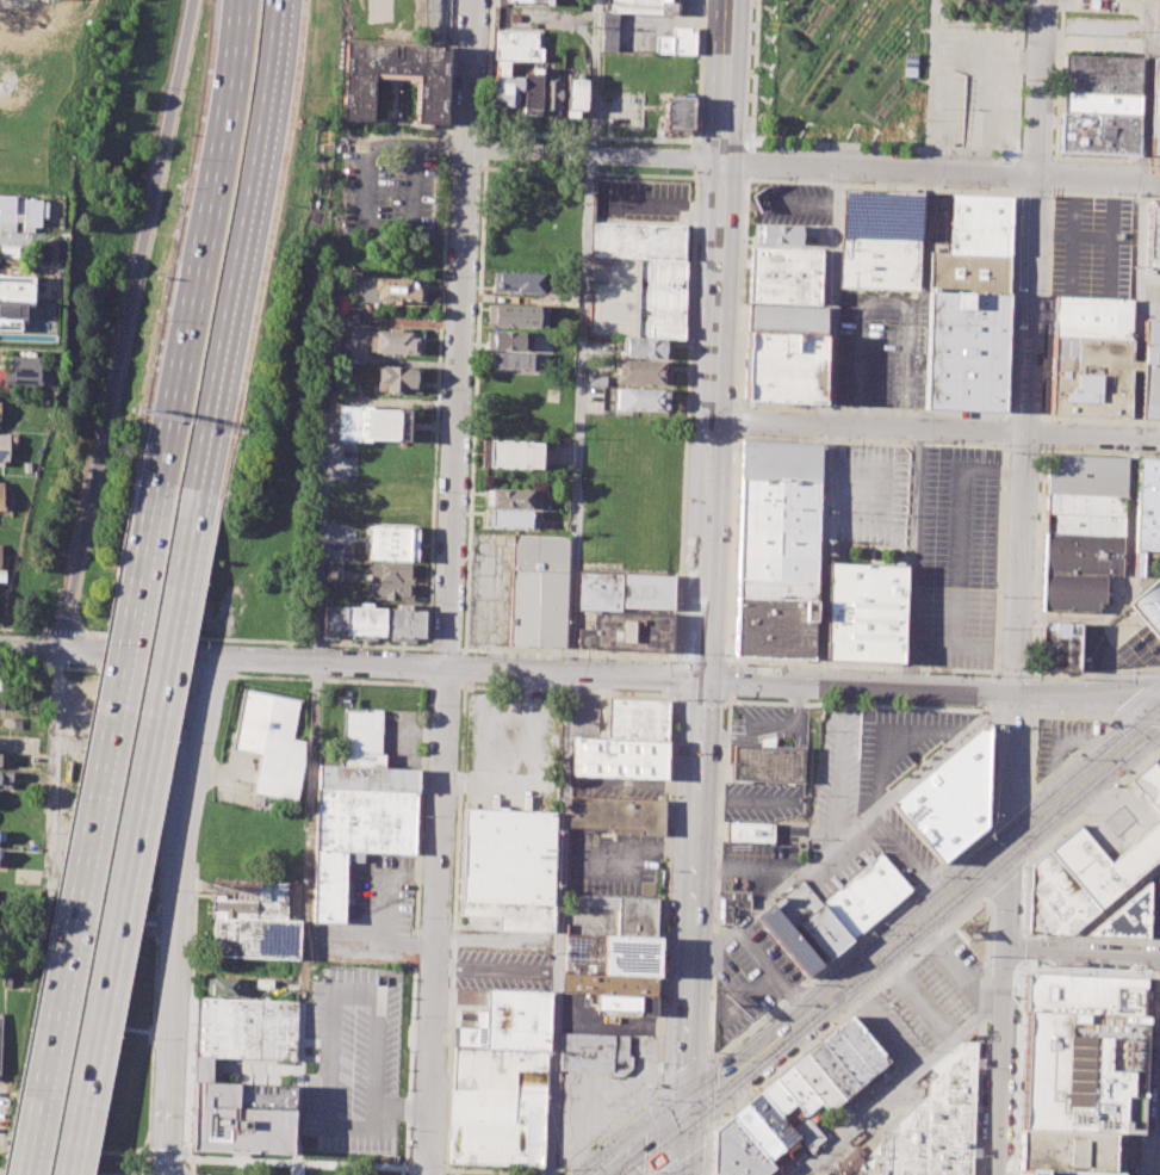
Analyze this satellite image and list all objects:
building: (528, 1)
road: (1003, 1)
building: (646, 6)
building: (1158, 11)
parking lot: (1099, 23)
road: (788, 25)
street lamp: (753, 27)
building: (516, 38)
building: (677, 41)
parking lot: (1103, 45)
parking lot: (1158, 49)
road: (804, 50)
building: (517, 52)
road: (813, 69)
park: (840, 69)
road: (699, 73)
building: (1102, 74)
parking lot: (978, 80)
road: (1018, 80)
building: (504, 85)
road: (930, 85)
building: (531, 89)
road: (1146, 91)
building: (551, 94)
building: (576, 94)
building: (359, 98)
street lamp: (453, 98)
road: (593, 101)
building: (1099, 103)
building: (678, 112)
building: (1155, 112)
road: (1056, 129)
building: (1098, 131)
road: (527, 132)
road: (488, 134)
street lamp: (748, 140)
road: (769, 141)
road: (751, 144)
road: (486, 148)
road: (974, 149)
road: (1036, 153)
road: (596, 156)
road: (1055, 156)
road: (696, 161)
road: (485, 163)
road: (748, 163)
road: (942, 172)
road: (1015, 173)
street lamp: (449, 174)
road: (1054, 174)
road: (749, 179)
street lamp: (746, 185)
parking lot: (386, 186)
road: (1016, 191)
road: (1034, 191)
road: (1053, 192)
road: (360, 198)
parking lot: (643, 200)
road: (207, 208)
road: (672, 208)
building: (20, 212)
parking lot: (941, 218)
building: (980, 224)
building: (783, 234)
road: (1072, 235)
road: (1069, 237)
road: (1110, 239)
building: (1153, 239)
building: (640, 240)
building: (882, 240)
road: (246, 246)
parking lot: (1092, 246)
building: (784, 276)
street lamp: (445, 277)
building: (519, 282)
parking lot: (1152, 287)
building: (399, 289)
building: (613, 296)
parking garage: (613, 296)
road: (835, 296)
building: (662, 297)
road: (883, 299)
building: (13, 303)
road: (1049, 307)
building: (515, 314)
building: (343, 315)
building: (1091, 317)
building: (786, 320)
road: (441, 323)
road: (126, 324)
building: (508, 340)
building: (399, 342)
building: (644, 347)
parking lot: (882, 351)
building: (964, 352)
building: (513, 360)
building: (1149, 361)
building: (784, 367)
building: (21, 371)
building: (639, 371)
building: (1088, 376)
building: (398, 379)
building: (597, 381)
street lamp: (441, 385)
building: (641, 398)
street lamp: (737, 398)
road: (739, 406)
road: (474, 410)
road: (581, 414)
road: (1022, 415)
road: (1046, 416)
road: (686, 420)
road: (739, 420)
building: (348, 422)
building: (384, 423)
road: (937, 429)
road: (1005, 431)
road: (738, 433)
road: (1046, 433)
street lamp: (745, 438)
street lamp: (734, 444)
building: (4, 447)
road: (1021, 447)
road: (1043, 450)
building: (515, 453)
street lamp: (1121, 456)
street lamp: (436, 493)
building: (0, 495)
building: (1086, 495)
road: (155, 496)
building: (510, 497)
road: (323, 501)
building: (1142, 505)
parking lot: (959, 517)
building: (513, 518)
road: (960, 526)
street lamp: (731, 537)
parking lot: (929, 539)
building: (389, 543)
building: (781, 548)
building: (0, 551)
building: (1084, 555)
road: (707, 557)
road: (913, 558)
road: (1038, 565)
building: (333, 570)
building: (391, 571)
parking lot: (1158, 579)
road: (449, 587)
road: (1018, 587)
parking lot: (490, 588)
building: (539, 589)
building: (393, 590)
building: (600, 590)
building: (646, 592)
building: (1073, 592)
street lamp: (57, 604)
street lamp: (432, 604)
building: (1148, 606)
building: (863, 612)
building: (373, 620)
road: (20, 630)
building: (627, 631)
road: (61, 632)
street lamp: (726, 632)
road: (255, 639)
street lamp: (204, 642)
road: (963, 644)
building: (1060, 644)
street lamp: (309, 645)
road: (30, 648)
road: (443, 648)
street lamp: (397, 649)
road: (464, 649)
street lamp: (472, 654)
street lamp: (562, 656)
road: (702, 660)
road: (728, 660)
street lamp: (663, 661)
road: (728, 661)
street lamp: (740, 664)
road: (427, 666)
road: (465, 668)
road: (95, 669)
street lamp: (832, 669)
road: (610, 674)
road: (210, 675)
road: (327, 679)
traffic signals: (701, 679)
road: (727, 679)
road: (674, 680)
road: (441, 684)
road: (463, 685)
building: (0, 686)
road: (676, 697)
road: (700, 698)
road: (1140, 698)
street lamp: (223, 699)
street lamp: (722, 705)
road: (876, 705)
street lamp: (427, 706)
parking lot: (585, 716)
road: (1139, 717)
building: (637, 718)
parking lot: (510, 732)
road: (767, 735)
road: (1153, 735)
building: (361, 737)
parking lot: (401, 738)
building: (8, 741)
building: (272, 742)
parking lot: (1057, 742)
road: (1060, 742)
parking lot: (898, 747)
building: (619, 756)
building: (2, 760)
parking lot: (1158, 761)
building: (768, 763)
parking lot: (838, 766)
road: (1030, 766)
building: (5, 775)
building: (367, 778)
parking lot: (238, 779)
building: (1149, 783)
parking lot: (618, 784)
street lamp: (1114, 784)
road: (1032, 792)
building: (949, 799)
street lamp: (204, 803)
road: (1090, 805)
road: (1011, 808)
building: (618, 812)
street lamp: (1079, 814)
street lamp: (719, 816)
street lamp: (422, 818)
parking lot: (1121, 821)
road: (991, 824)
road: (134, 833)
building: (749, 834)
building: (1, 835)
building: (355, 837)
building: (31, 845)
building: (0, 858)
parking lot: (613, 862)
building: (508, 866)
road: (733, 870)
parking lot: (755, 870)
road: (82, 877)
building: (1083, 879)
road: (1001, 882)
street lamp: (1022, 893)
building: (866, 896)
road: (1023, 897)
building: (252, 901)
street lamp: (192, 902)
building: (733, 908)
road: (1109, 909)
road: (157, 911)
building: (625, 911)
road: (173, 913)
parking lot: (371, 914)
street lamp: (1021, 916)
road: (305, 917)
road: (925, 917)
building: (1125, 919)
street lamp: (418, 920)
building: (811, 920)
road: (559, 923)
building: (255, 938)
street lamp: (1044, 939)
building: (787, 941)
street lamp: (1114, 941)
road: (1021, 951)
road: (1083, 953)
building: (629, 954)
street lamp: (914, 954)
building: (227, 966)
parking lot: (502, 969)
street lamp: (990, 969)
street lamp: (1044, 969)
street lamp: (1073, 971)
street lamp: (1097, 973)
street lamp: (1123, 975)
street lamp: (1021, 981)
building: (608, 983)
building: (224, 985)
parking lot: (937, 990)
street lamp: (1019, 1003)
building: (625, 1004)
road: (846, 1013)
road: (191, 1014)
street lamp: (415, 1018)
building: (479, 1019)
building: (516, 1019)
parking lot: (598, 1019)
road: (753, 1024)
building: (0, 1025)
street lamp: (187, 1026)
building: (246, 1027)
road: (410, 1032)
building: (469, 1037)
building: (863, 1044)
street lamp: (714, 1052)
building: (595, 1053)
building: (1084, 1053)
parking lot: (351, 1057)
building: (849, 1057)
street lamp: (1017, 1065)
street lamp: (987, 1066)
building: (833, 1069)
road: (1016, 1071)
road: (682, 1076)
building: (818, 1082)
road: (1155, 1083)
road: (898, 1084)
building: (799, 1089)
road: (709, 1094)
parking lot: (601, 1096)
street lamp: (647, 1103)
building: (497, 1106)
building: (794, 1113)
traffic signals: (686, 1115)
building: (241, 1118)
building: (774, 1119)
building: (939, 1121)
street lamp: (409, 1133)
road: (652, 1133)
building: (761, 1133)
road: (446, 1139)
street lamp: (1013, 1143)
road: (644, 1144)
road: (686, 1145)
road: (104, 1150)
road: (680, 1150)
street lamp: (181, 1151)
road: (709, 1151)
building: (738, 1151)
building: (1065, 1154)
street lamp: (982, 1155)
road: (141, 1163)
road: (408, 1168)
road: (428, 1168)
street lamp: (564, 1169)
road: (405, 1171)
street lamp: (651, 1173)
street lamp: (1011, 1173)
road: (649, 1174)

